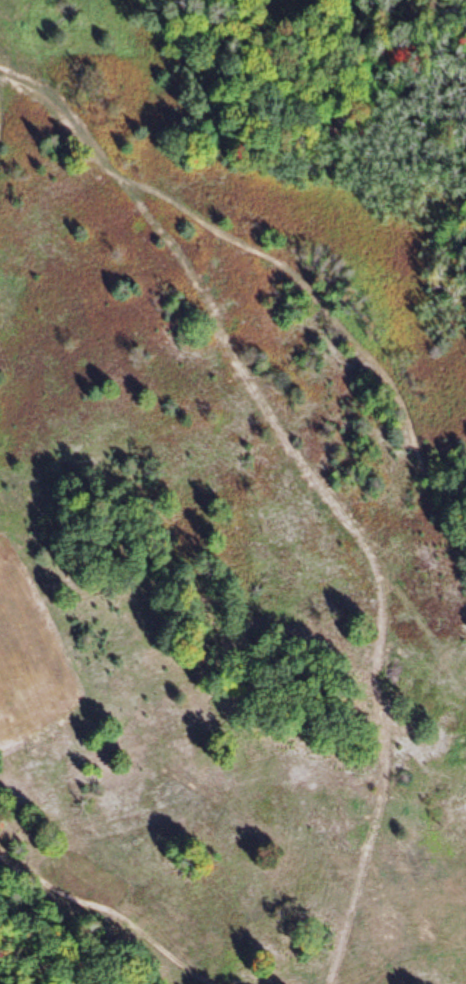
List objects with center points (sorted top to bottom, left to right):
road: (266, 245)

